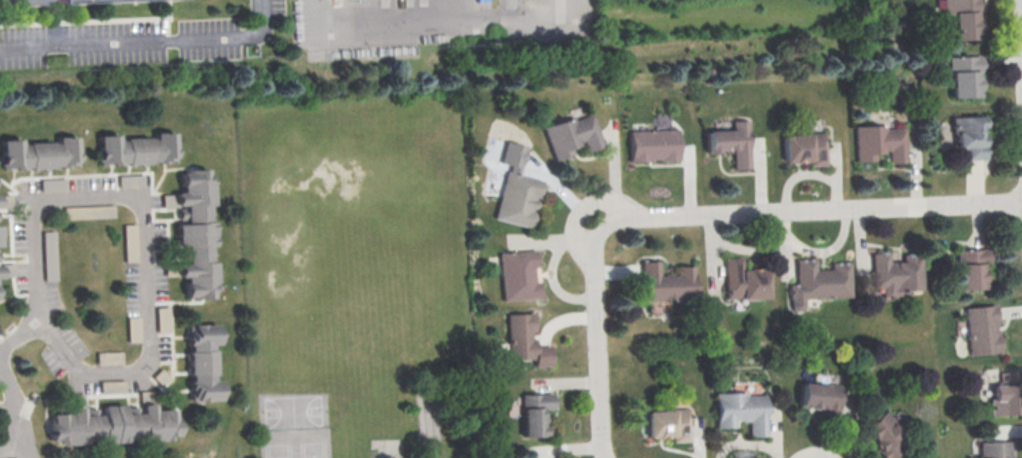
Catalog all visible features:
building: (44, 2)
road: (525, 10)
road: (385, 16)
building: (961, 18)
road: (144, 40)
building: (963, 74)
building: (572, 134)
building: (968, 137)
building: (878, 141)
building: (651, 144)
building: (729, 144)
building: (803, 147)
building: (138, 149)
building: (40, 153)
building: (513, 154)
building: (131, 180)
building: (53, 184)
building: (519, 198)
road: (816, 209)
building: (89, 211)
building: (195, 233)
road: (146, 237)
building: (0, 238)
building: (130, 242)
building: (50, 254)
building: (969, 268)
building: (0, 273)
building: (895, 273)
building: (519, 275)
building: (818, 279)
building: (741, 280)
building: (666, 282)
building: (163, 319)
building: (133, 328)
building: (981, 329)
road: (20, 336)
road: (598, 336)
building: (525, 340)
building: (109, 358)
building: (203, 361)
building: (112, 386)
road: (12, 394)
building: (1005, 394)
building: (817, 397)
park: (292, 411)
building: (739, 411)
building: (534, 412)
road: (9, 418)
building: (667, 423)
building: (112, 424)
building: (881, 435)
road: (24, 441)
park: (294, 443)
road: (12, 449)
building: (994, 449)

